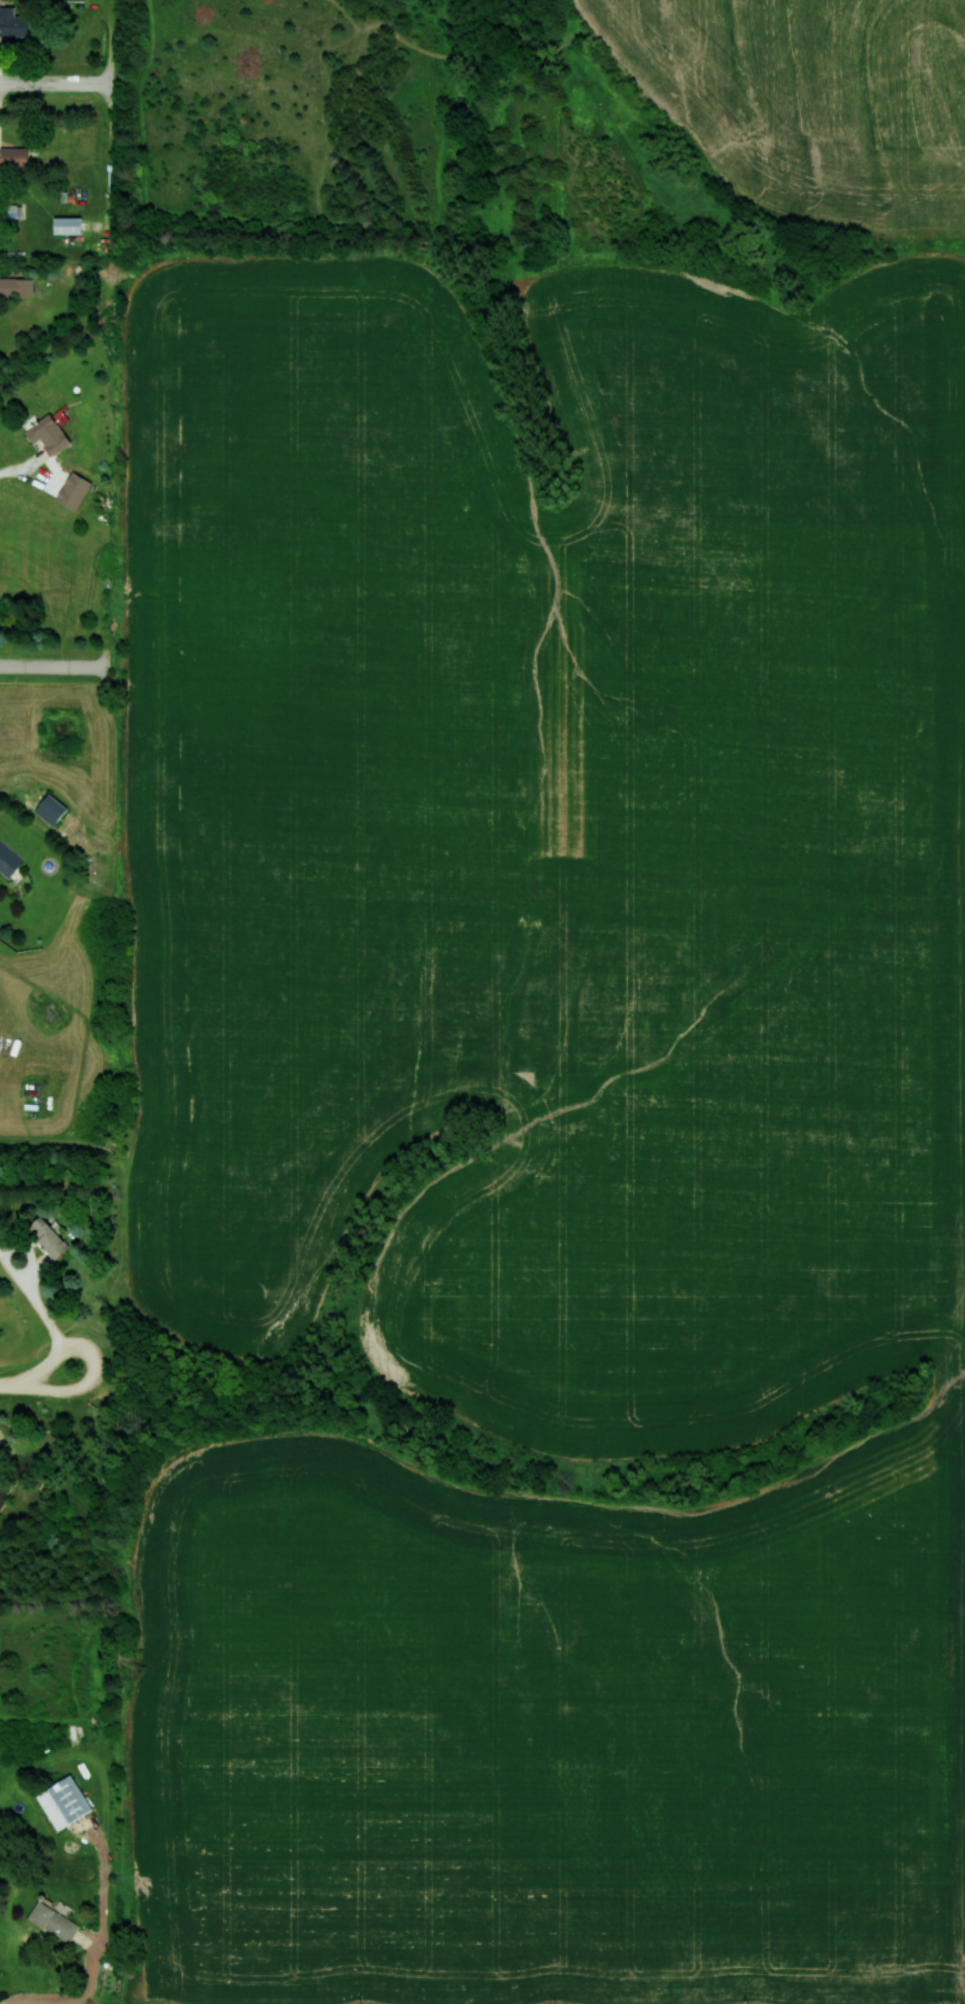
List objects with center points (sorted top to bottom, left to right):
building: (77, 0)
building: (13, 23)
road: (55, 84)
crop: (809, 100)
building: (14, 158)
building: (67, 225)
building: (16, 286)
building: (49, 434)
road: (18, 469)
building: (73, 490)
road: (51, 666)
building: (51, 809)
building: (9, 859)
crop: (551, 1128)
building: (49, 1238)
road: (44, 1314)
road: (39, 1383)
building: (64, 1801)
building: (54, 1921)
road: (94, 1951)

